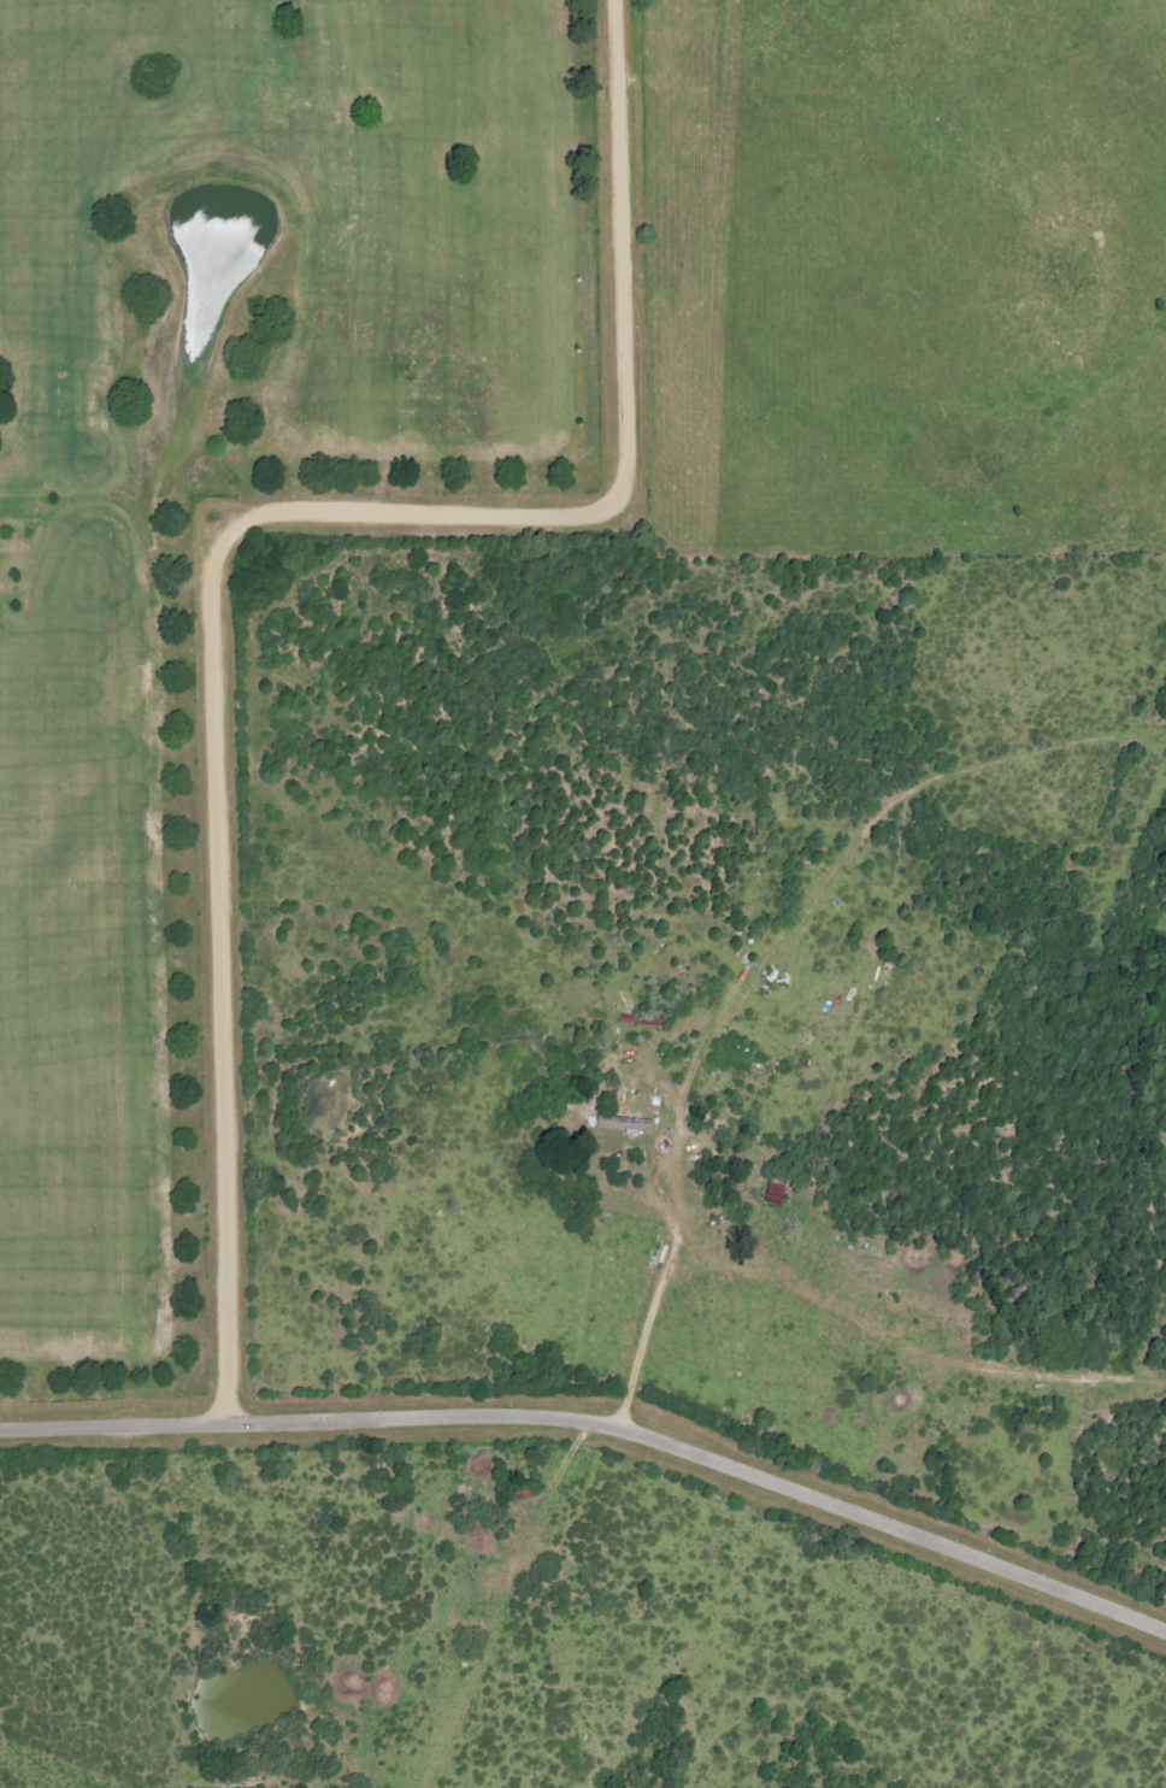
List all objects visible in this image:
road: (231, 531)
building: (628, 1123)
building: (777, 1194)
road: (644, 1333)
road: (601, 1421)

